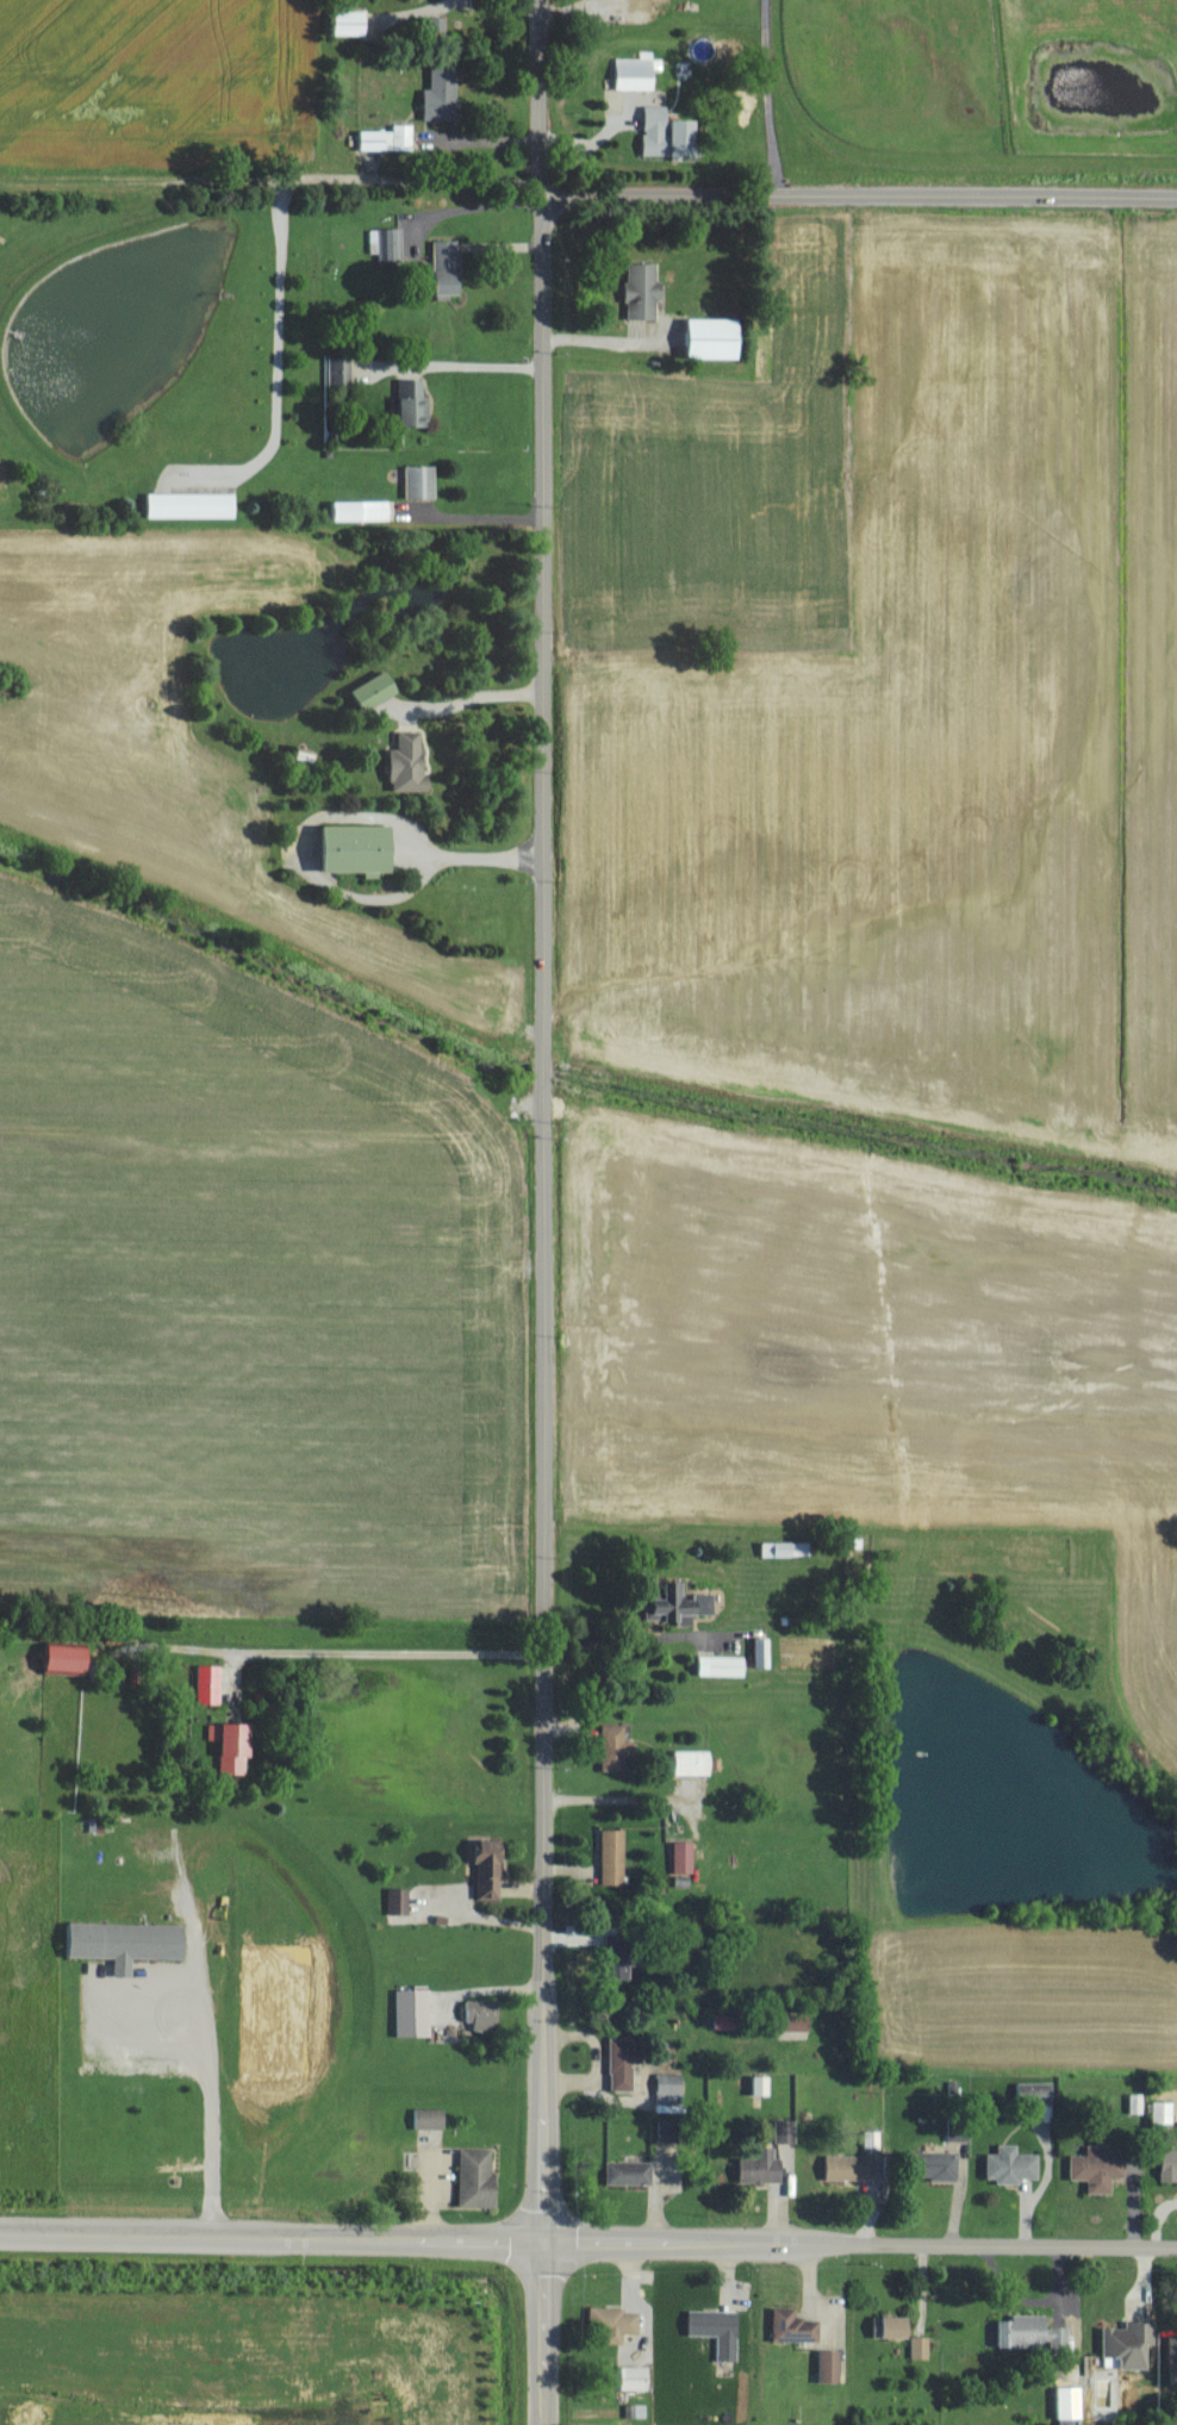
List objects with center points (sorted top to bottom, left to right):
building: (642, 6)
building: (353, 24)
building: (640, 73)
building: (446, 92)
road: (764, 98)
building: (672, 133)
building: (390, 138)
road: (860, 195)
road: (279, 232)
building: (392, 244)
building: (449, 267)
building: (646, 289)
building: (717, 338)
building: (342, 370)
road: (469, 373)
building: (416, 403)
building: (423, 481)
building: (194, 505)
building: (363, 510)
road: (478, 526)
building: (378, 691)
building: (411, 762)
building: (361, 849)
road: (540, 1212)
building: (679, 1606)
road: (639, 1645)
building: (765, 1653)
road: (328, 1658)
building: (70, 1662)
building: (724, 1666)
building: (211, 1684)
building: (235, 1746)
building: (617, 1748)
building: (696, 1763)
road: (623, 1806)
building: (616, 1857)
building: (685, 1857)
building: (492, 1868)
building: (400, 1901)
building: (129, 1943)
building: (416, 2012)
building: (486, 2014)
building: (728, 2022)
building: (795, 2027)
building: (625, 2063)
road: (204, 2074)
building: (764, 2084)
building: (672, 2089)
building: (1038, 2093)
building: (1165, 2112)
building: (431, 2119)
building: (960, 2130)
building: (672, 2131)
building: (787, 2131)
building: (1170, 2164)
building: (940, 2165)
building: (1015, 2165)
building: (764, 2167)
building: (849, 2167)
building: (1100, 2169)
building: (633, 2172)
building: (480, 2178)
road: (587, 2239)
building: (615, 2325)
building: (797, 2326)
building: (893, 2326)
building: (720, 2331)
building: (1035, 2333)
building: (1133, 2343)
building: (922, 2348)
building: (1175, 2358)
building: (832, 2365)
building: (637, 2377)
building: (1072, 2402)

